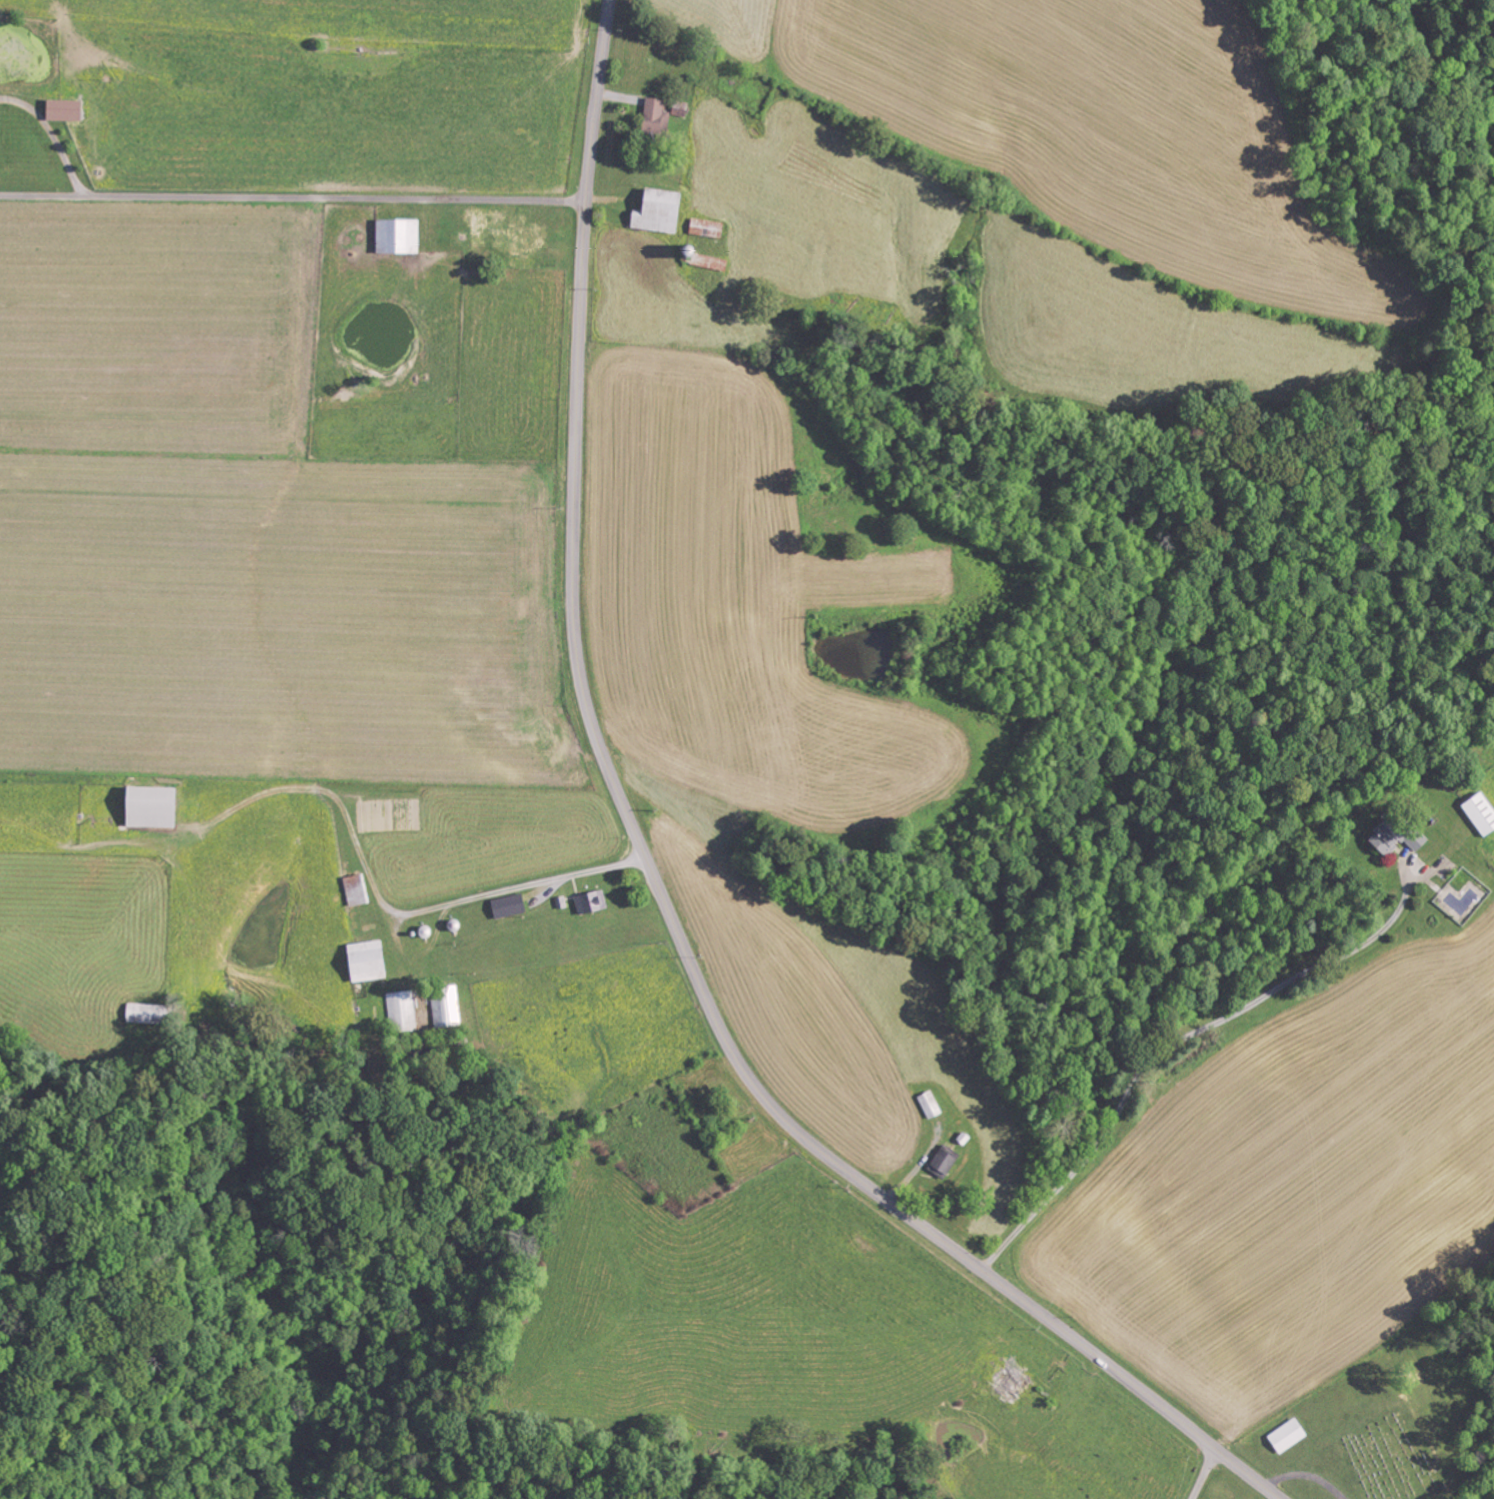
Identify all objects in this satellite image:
building: (677, 109)
building: (60, 111)
building: (651, 118)
building: (652, 212)
building: (703, 228)
building: (393, 237)
building: (708, 263)
building: (144, 806)
building: (1478, 814)
building: (1393, 838)
road: (654, 880)
building: (588, 901)
building: (505, 906)
building: (361, 961)
building: (397, 1006)
building: (139, 1013)
building: (926, 1105)
building: (940, 1161)
road: (1204, 1301)
building: (1004, 1384)
building: (1284, 1436)
road: (1204, 1474)

